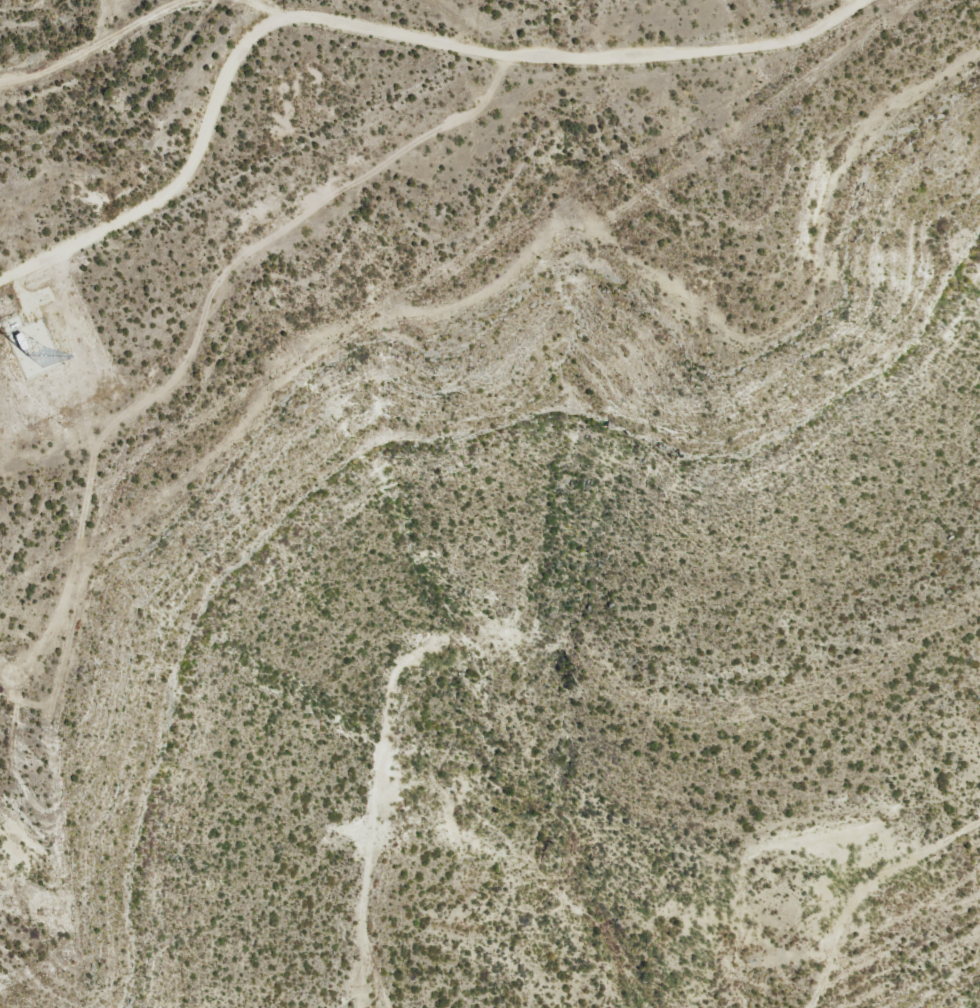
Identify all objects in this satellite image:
road: (462, 67)
road: (878, 899)

